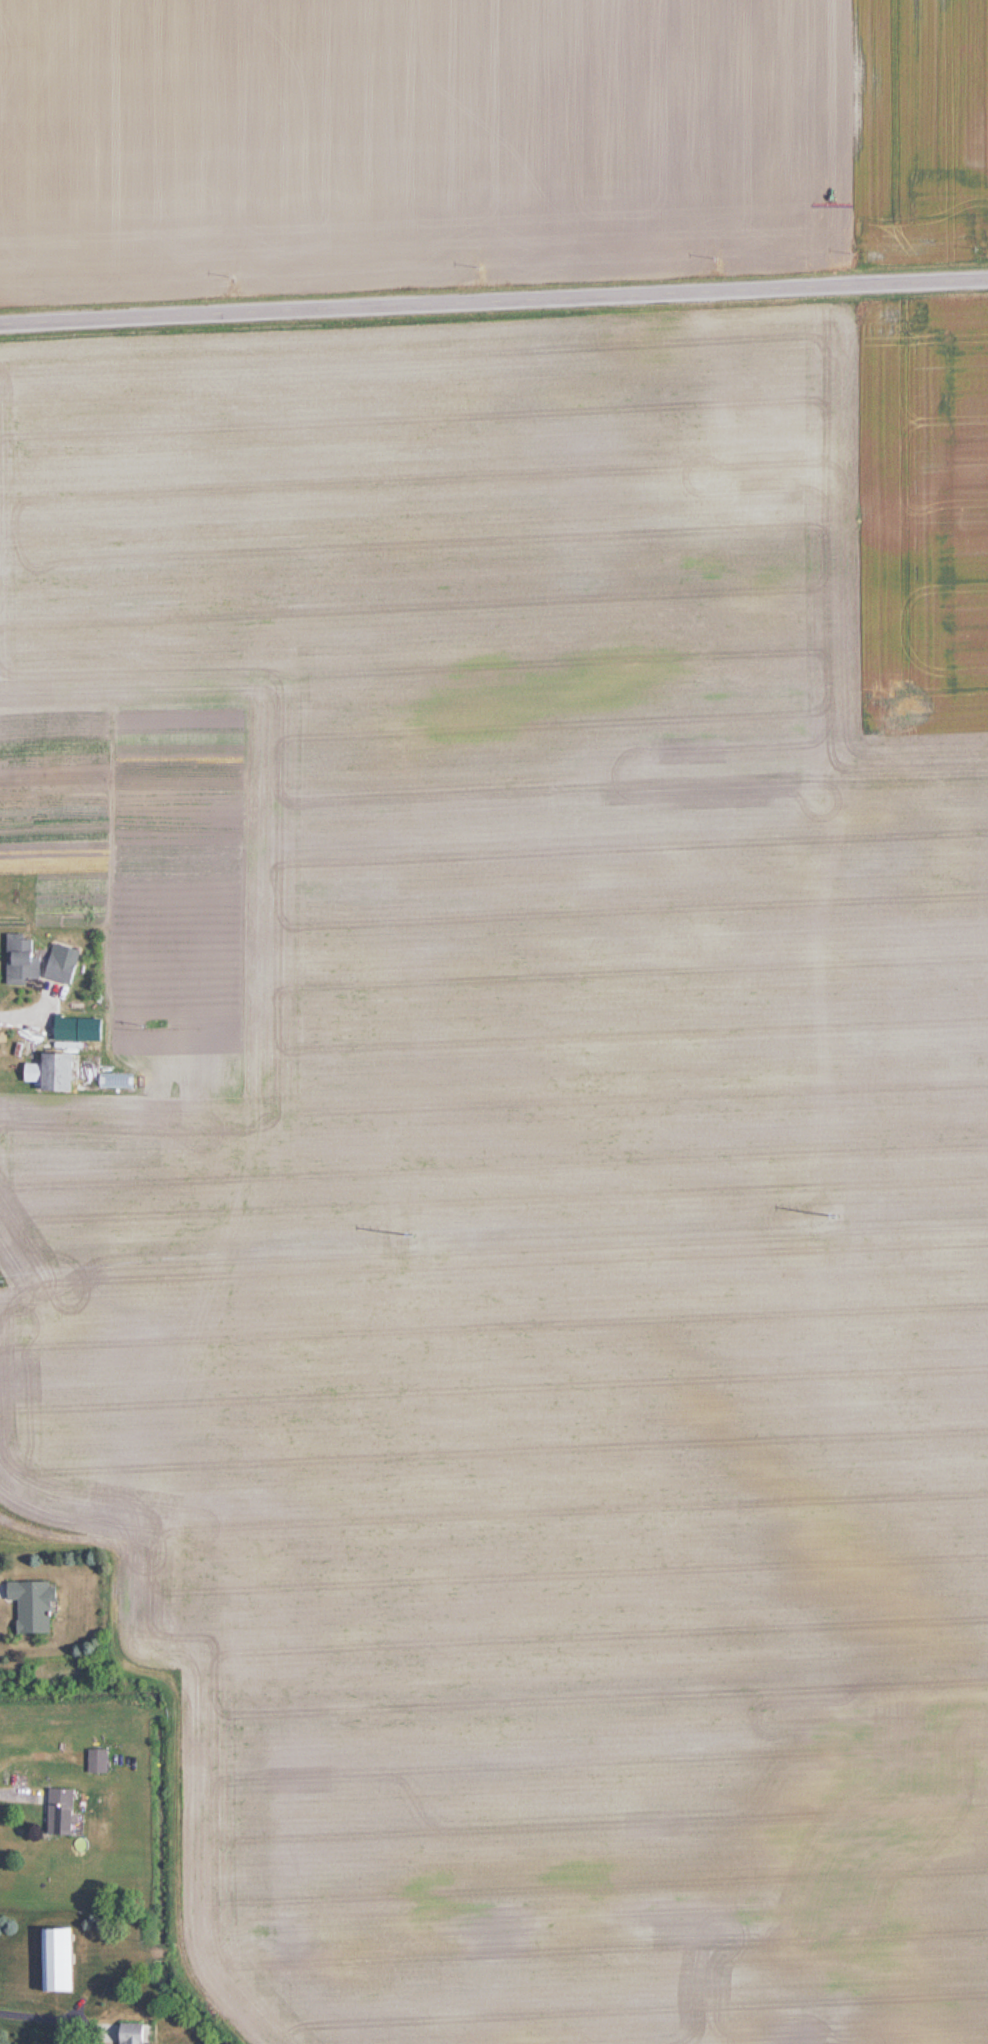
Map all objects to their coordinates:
road: (494, 303)
building: (27, 960)
building: (66, 970)
building: (55, 1073)
power tower: (838, 1219)
power tower: (418, 1236)
power tower: (5, 1281)
building: (41, 1605)
building: (104, 1759)
building: (69, 1810)
building: (68, 1959)
road: (56, 2019)
building: (139, 2033)

